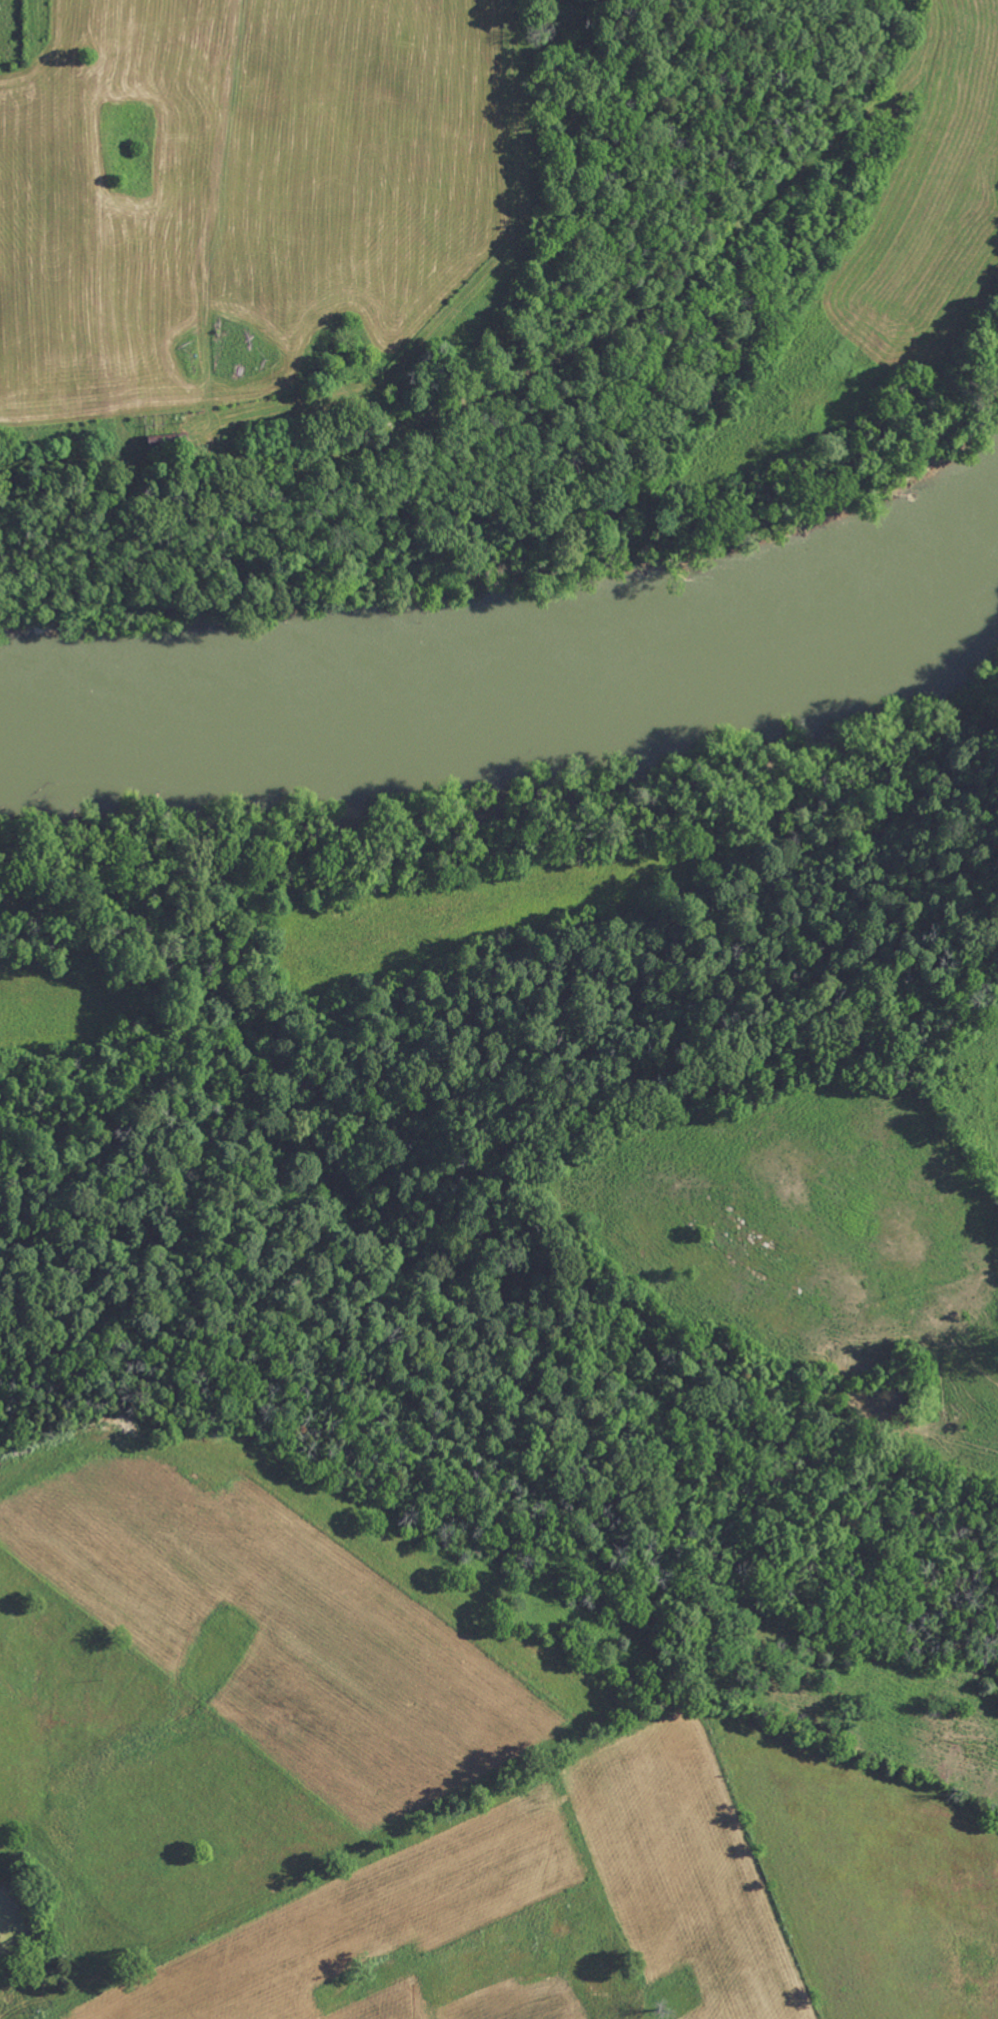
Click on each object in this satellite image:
river: (516, 658)

